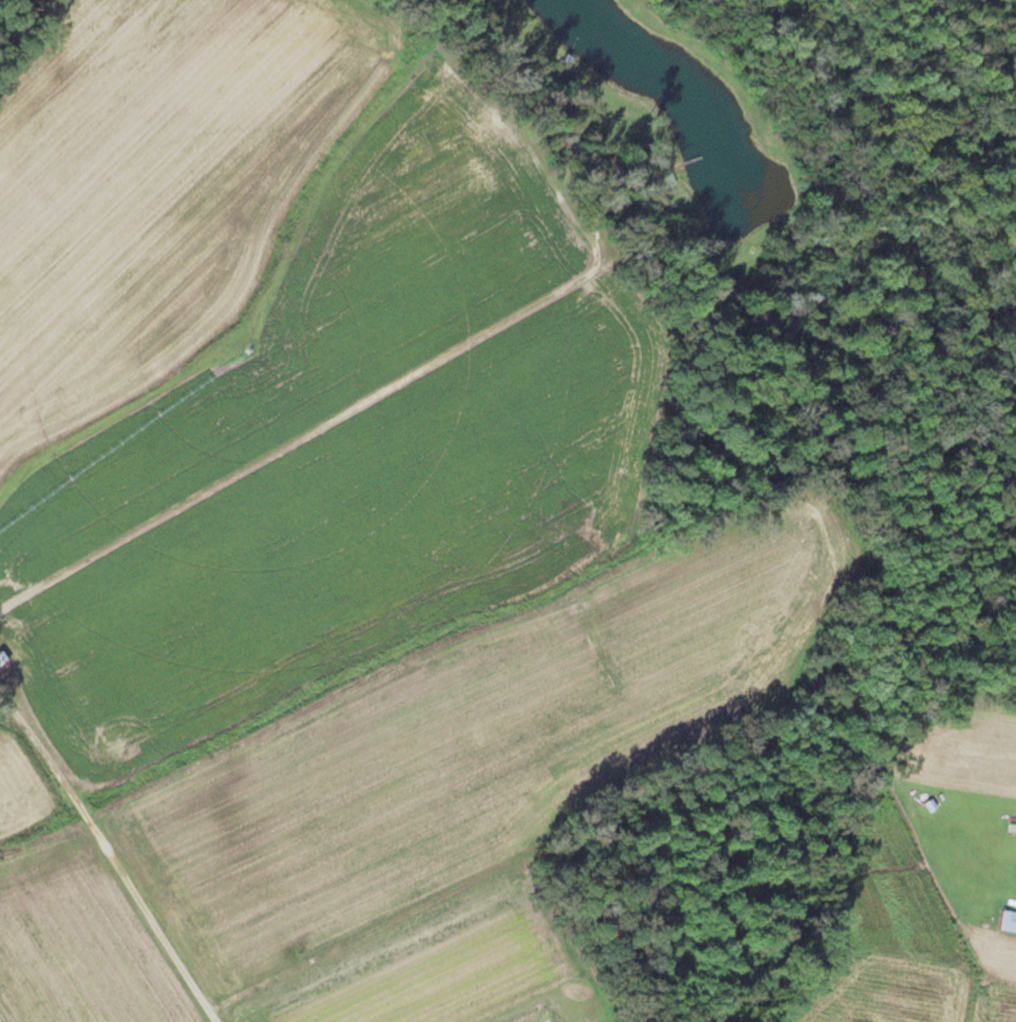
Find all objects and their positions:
building: (659, 181)
road: (159, 852)
building: (1011, 922)

